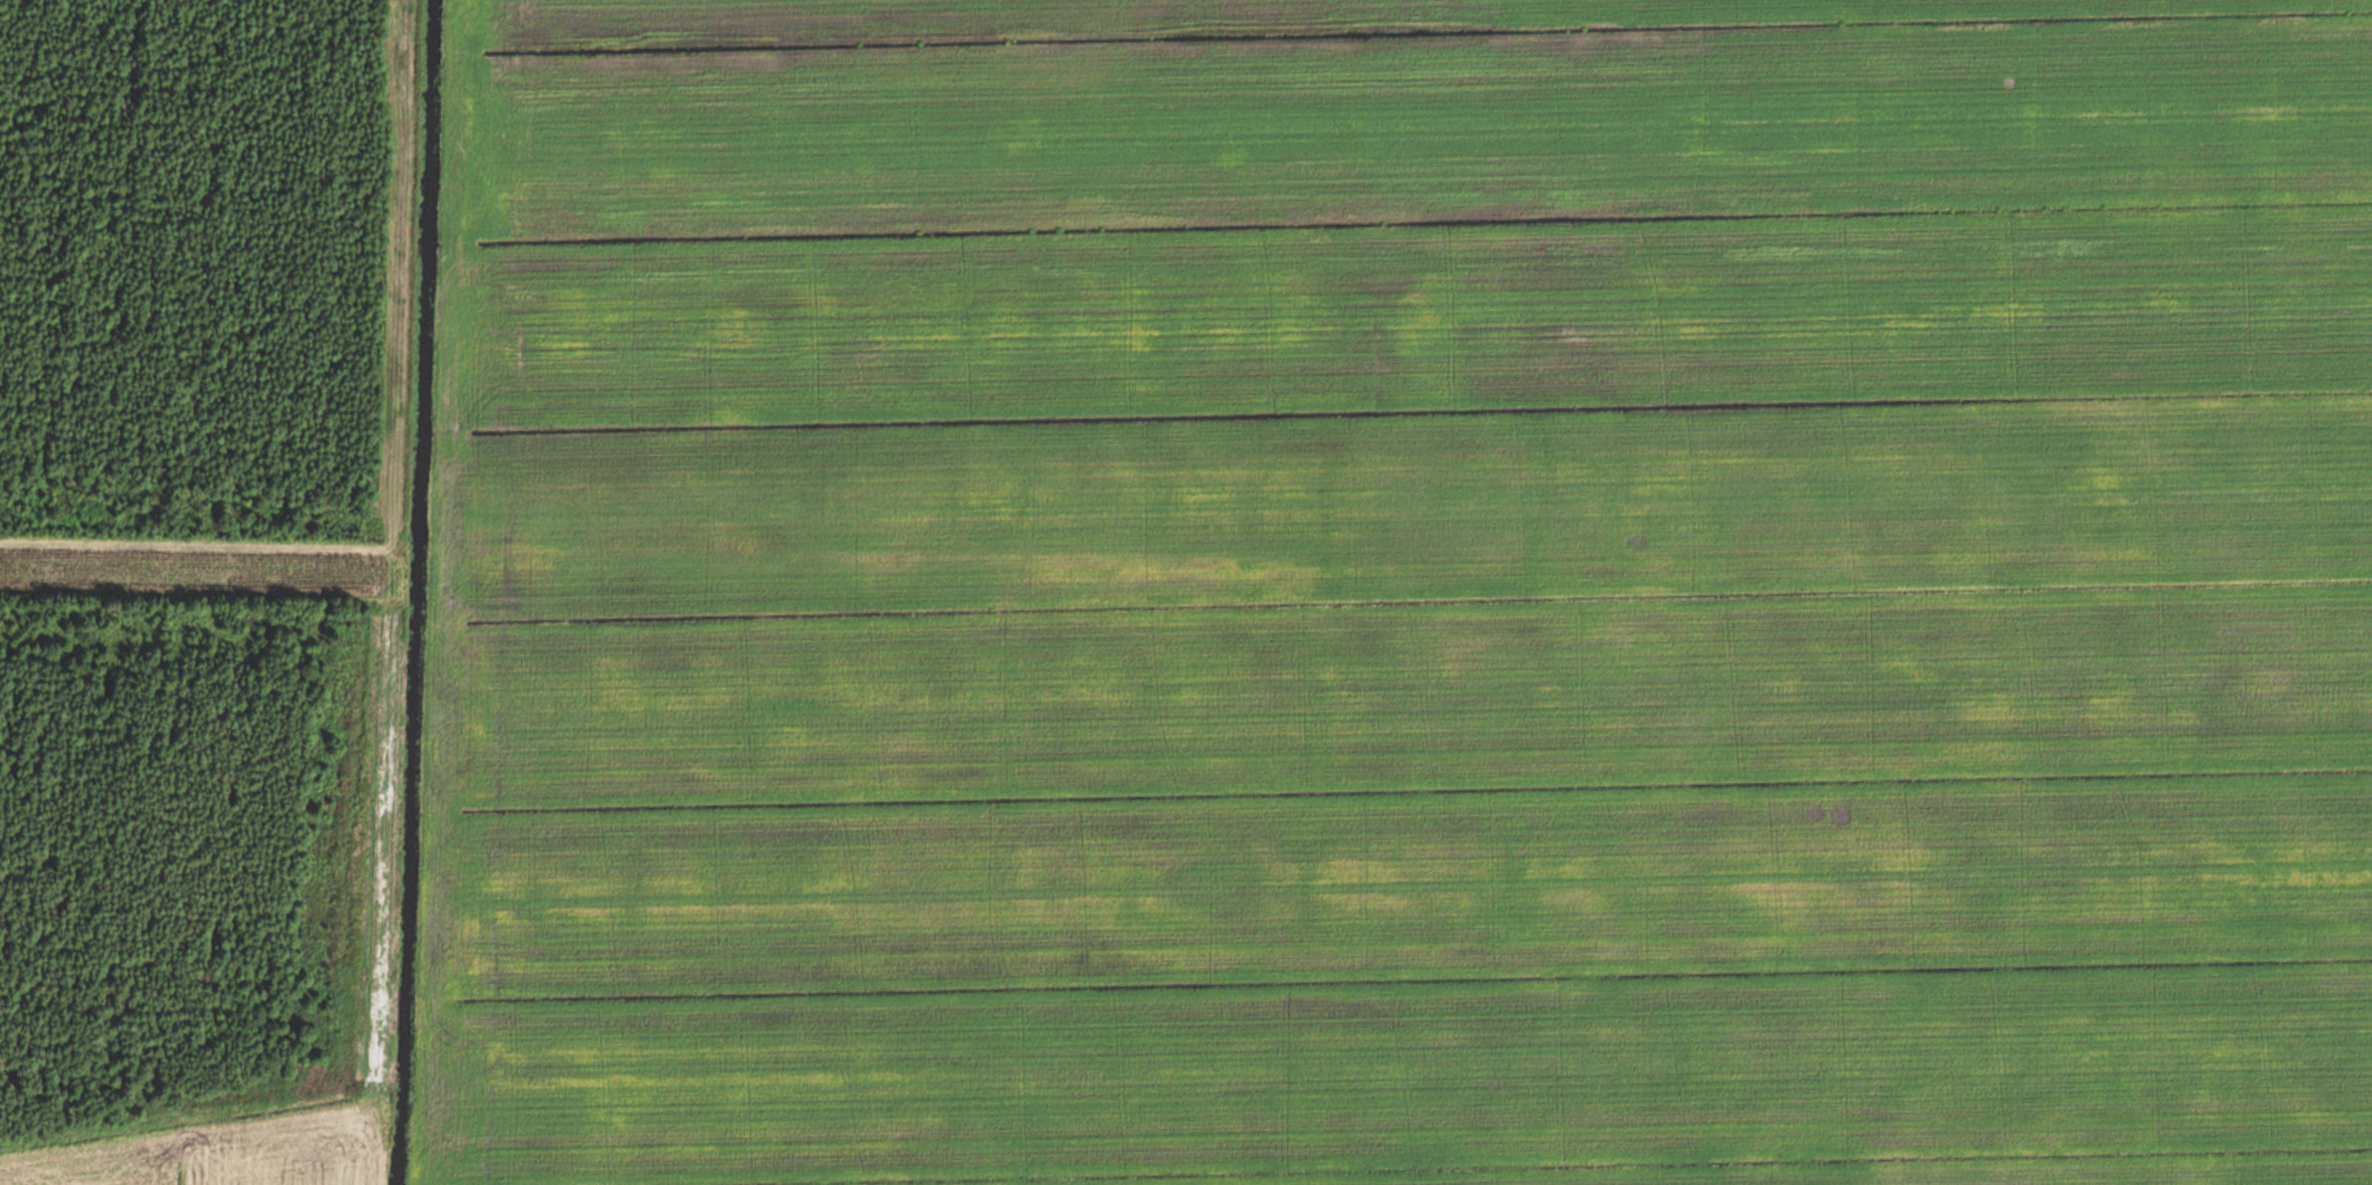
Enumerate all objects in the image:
building: (1588, 645)

